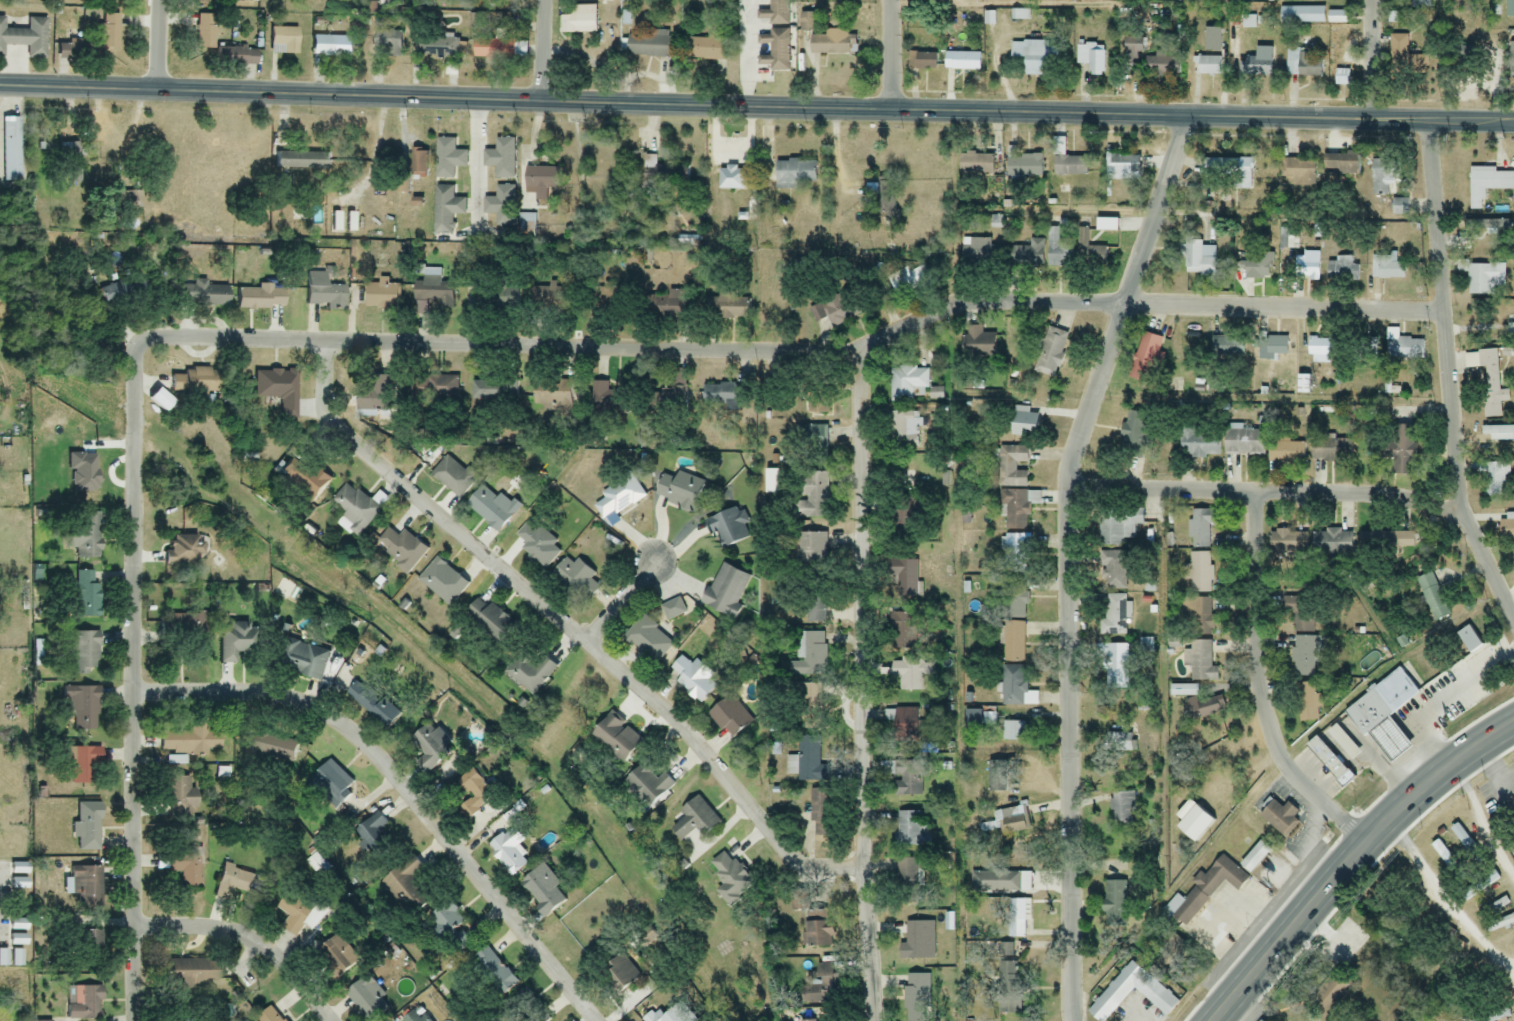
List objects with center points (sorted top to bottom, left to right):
building: (845, 1)
building: (1420, 4)
building: (773, 13)
building: (1301, 15)
building: (1337, 17)
building: (577, 24)
building: (284, 41)
building: (386, 43)
road: (154, 44)
building: (647, 44)
building: (832, 45)
building: (330, 46)
building: (441, 48)
building: (498, 49)
building: (705, 49)
building: (773, 51)
building: (1131, 51)
road: (540, 52)
road: (751, 53)
road: (890, 54)
building: (1033, 57)
building: (1090, 57)
building: (1406, 57)
road: (1370, 60)
building: (961, 61)
building: (923, 62)
building: (1302, 64)
building: (1207, 66)
building: (1511, 66)
building: (1255, 67)
building: (1341, 77)
road: (756, 107)
road: (136, 138)
building: (501, 158)
building: (448, 159)
building: (299, 161)
building: (419, 163)
building: (975, 164)
building: (1023, 166)
building: (1068, 166)
building: (1337, 167)
road: (480, 168)
building: (1121, 168)
building: (234, 172)
building: (1215, 173)
building: (1297, 173)
building: (794, 175)
building: (1240, 176)
building: (1383, 177)
building: (664, 178)
building: (541, 181)
building: (1487, 184)
building: (501, 206)
building: (1398, 207)
building: (446, 210)
building: (1105, 225)
building: (1477, 225)
building: (526, 227)
building: (1289, 242)
building: (1057, 251)
building: (1088, 251)
building: (1226, 251)
building: (979, 253)
building: (1028, 254)
building: (1197, 259)
building: (1256, 266)
building: (1307, 267)
building: (1386, 267)
building: (1342, 270)
building: (904, 279)
building: (1484, 279)
building: (431, 289)
building: (321, 293)
building: (381, 295)
building: (611, 295)
building: (208, 296)
building: (549, 297)
building: (258, 298)
building: (496, 298)
building: (669, 308)
building: (725, 308)
building: (835, 309)
building: (977, 343)
building: (1224, 346)
building: (1272, 348)
road: (790, 349)
building: (1364, 349)
building: (1405, 350)
building: (1050, 352)
building: (1322, 352)
building: (1146, 359)
road: (1449, 380)
building: (192, 382)
building: (911, 385)
building: (1491, 386)
building: (437, 387)
building: (277, 389)
building: (493, 390)
building: (374, 397)
building: (721, 397)
building: (158, 400)
building: (553, 401)
building: (669, 401)
building: (818, 404)
building: (1021, 423)
building: (905, 427)
building: (1135, 433)
building: (1497, 433)
building: (812, 442)
building: (1198, 442)
building: (1243, 443)
building: (1399, 449)
building: (1330, 450)
building: (1286, 453)
building: (1012, 467)
building: (303, 477)
building: (452, 477)
building: (1497, 480)
building: (679, 491)
road: (1266, 492)
building: (812, 495)
building: (618, 497)
building: (909, 506)
building: (492, 508)
building: (354, 509)
building: (1016, 509)
building: (728, 527)
building: (1118, 527)
building: (1506, 527)
building: (1199, 529)
building: (1386, 540)
building: (1288, 543)
building: (1331, 544)
building: (537, 545)
building: (809, 548)
building: (400, 549)
building: (182, 550)
building: (1016, 552)
road: (1068, 559)
building: (1114, 569)
building: (1201, 573)
building: (905, 578)
building: (574, 579)
building: (442, 582)
building: (726, 591)
building: (1432, 597)
building: (87, 601)
road: (619, 603)
building: (1016, 603)
road: (1509, 604)
building: (673, 610)
building: (815, 610)
building: (1303, 615)
building: (1117, 616)
building: (1198, 616)
building: (487, 621)
building: (182, 628)
road: (569, 628)
building: (648, 640)
building: (236, 641)
building: (1468, 641)
building: (1013, 643)
building: (87, 653)
building: (906, 655)
building: (1306, 655)
building: (811, 656)
building: (303, 661)
building: (1201, 662)
building: (1117, 665)
building: (530, 671)
building: (692, 679)
road: (131, 686)
road: (861, 686)
building: (1012, 686)
road: (1259, 686)
building: (1177, 691)
building: (1306, 702)
building: (372, 705)
building: (809, 705)
building: (86, 708)
building: (1205, 708)
road: (1435, 709)
building: (1382, 714)
building: (989, 715)
building: (728, 716)
building: (905, 726)
building: (1013, 732)
building: (615, 737)
building: (193, 741)
building: (1122, 743)
building: (1342, 743)
building: (428, 748)
building: (806, 762)
building: (1329, 763)
building: (86, 766)
road: (1495, 767)
building: (998, 775)
building: (908, 778)
road: (401, 786)
building: (647, 786)
building: (470, 794)
building: (183, 798)
building: (1511, 807)
building: (1123, 808)
building: (813, 809)
building: (1280, 817)
building: (695, 820)
building: (1014, 820)
road: (1482, 821)
building: (84, 827)
building: (910, 828)
building: (376, 839)
building: (1462, 839)
building: (1512, 849)
building: (1443, 854)
building: (1254, 856)
road: (1349, 858)
building: (184, 865)
building: (910, 875)
building: (1219, 877)
building: (732, 879)
building: (1001, 881)
building: (232, 882)
building: (1478, 885)
building: (406, 886)
building: (85, 887)
building: (542, 889)
building: (1115, 898)
road: (1445, 899)
building: (1183, 909)
building: (300, 911)
building: (1014, 918)
building: (448, 926)
building: (818, 931)
road: (249, 939)
building: (918, 942)
building: (85, 946)
building: (1176, 948)
building: (335, 954)
building: (1474, 960)
building: (624, 970)
building: (492, 972)
building: (187, 974)
building: (826, 981)
building: (1157, 993)
building: (916, 997)
building: (363, 999)
building: (82, 1002)
building: (527, 1007)
building: (676, 1013)
building: (267, 1015)
building: (413, 1017)
building: (191, 1019)

